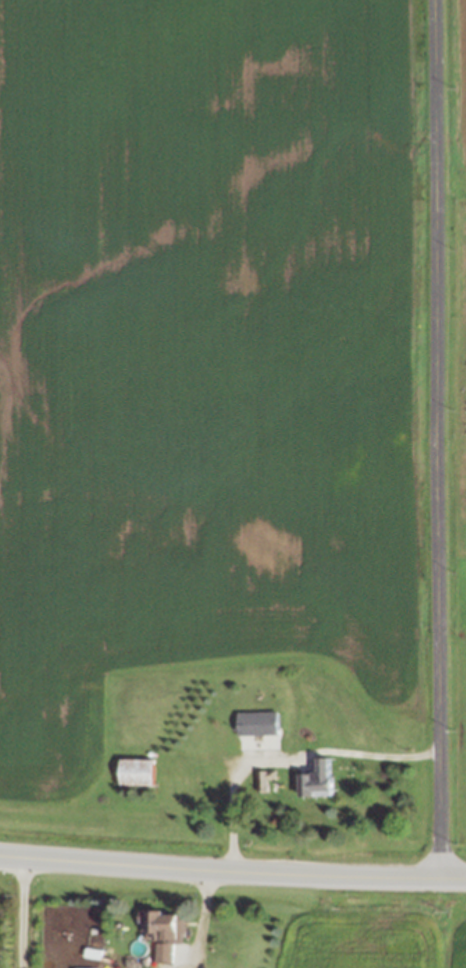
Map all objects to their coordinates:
road: (439, 440)
building: (255, 723)
road: (288, 760)
building: (133, 771)
building: (314, 779)
road: (232, 873)
road: (21, 913)
building: (163, 931)

